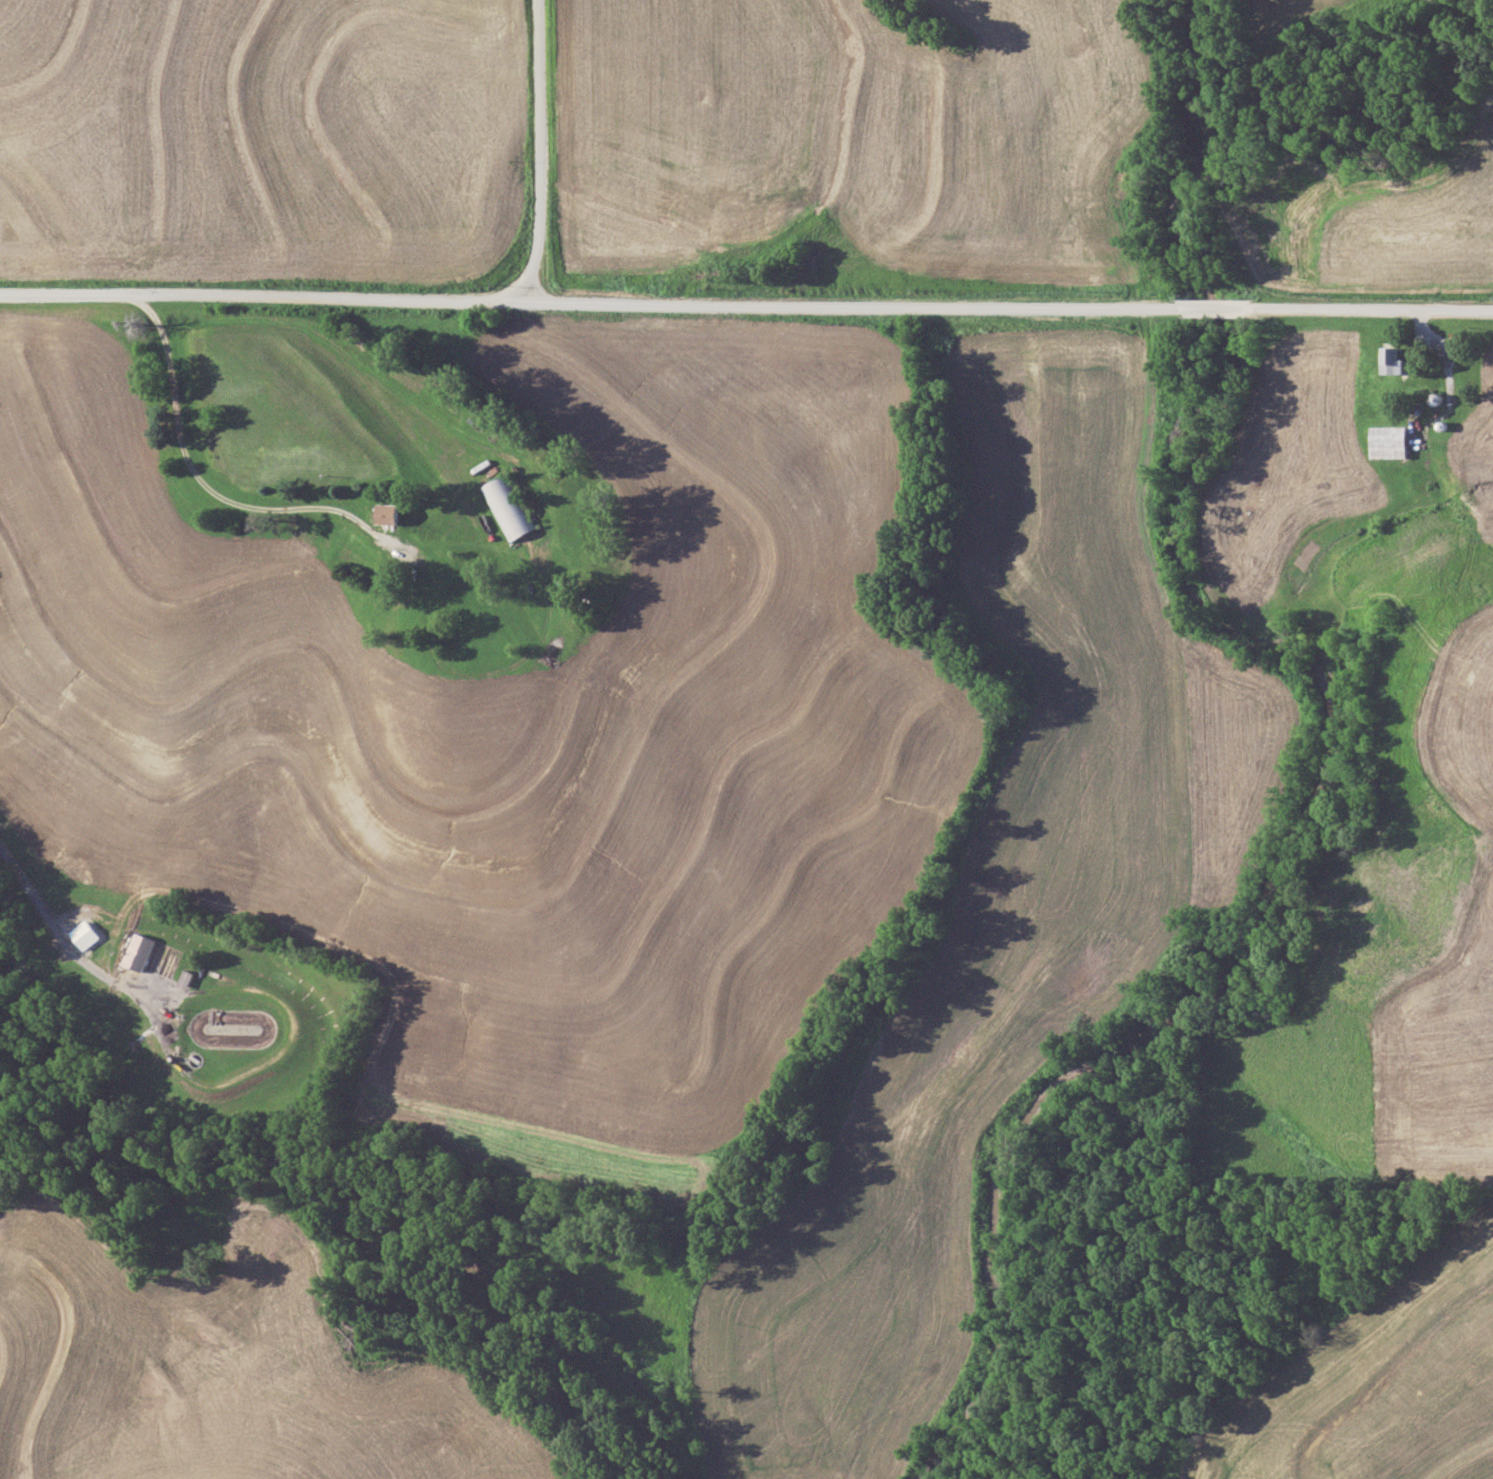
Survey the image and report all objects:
road: (538, 152)
building: (743, 209)
road: (746, 307)
road: (145, 311)
building: (1390, 361)
building: (1390, 442)
building: (506, 507)
building: (390, 512)
road: (479, 519)
road: (65, 939)
building: (149, 955)
building: (187, 978)

